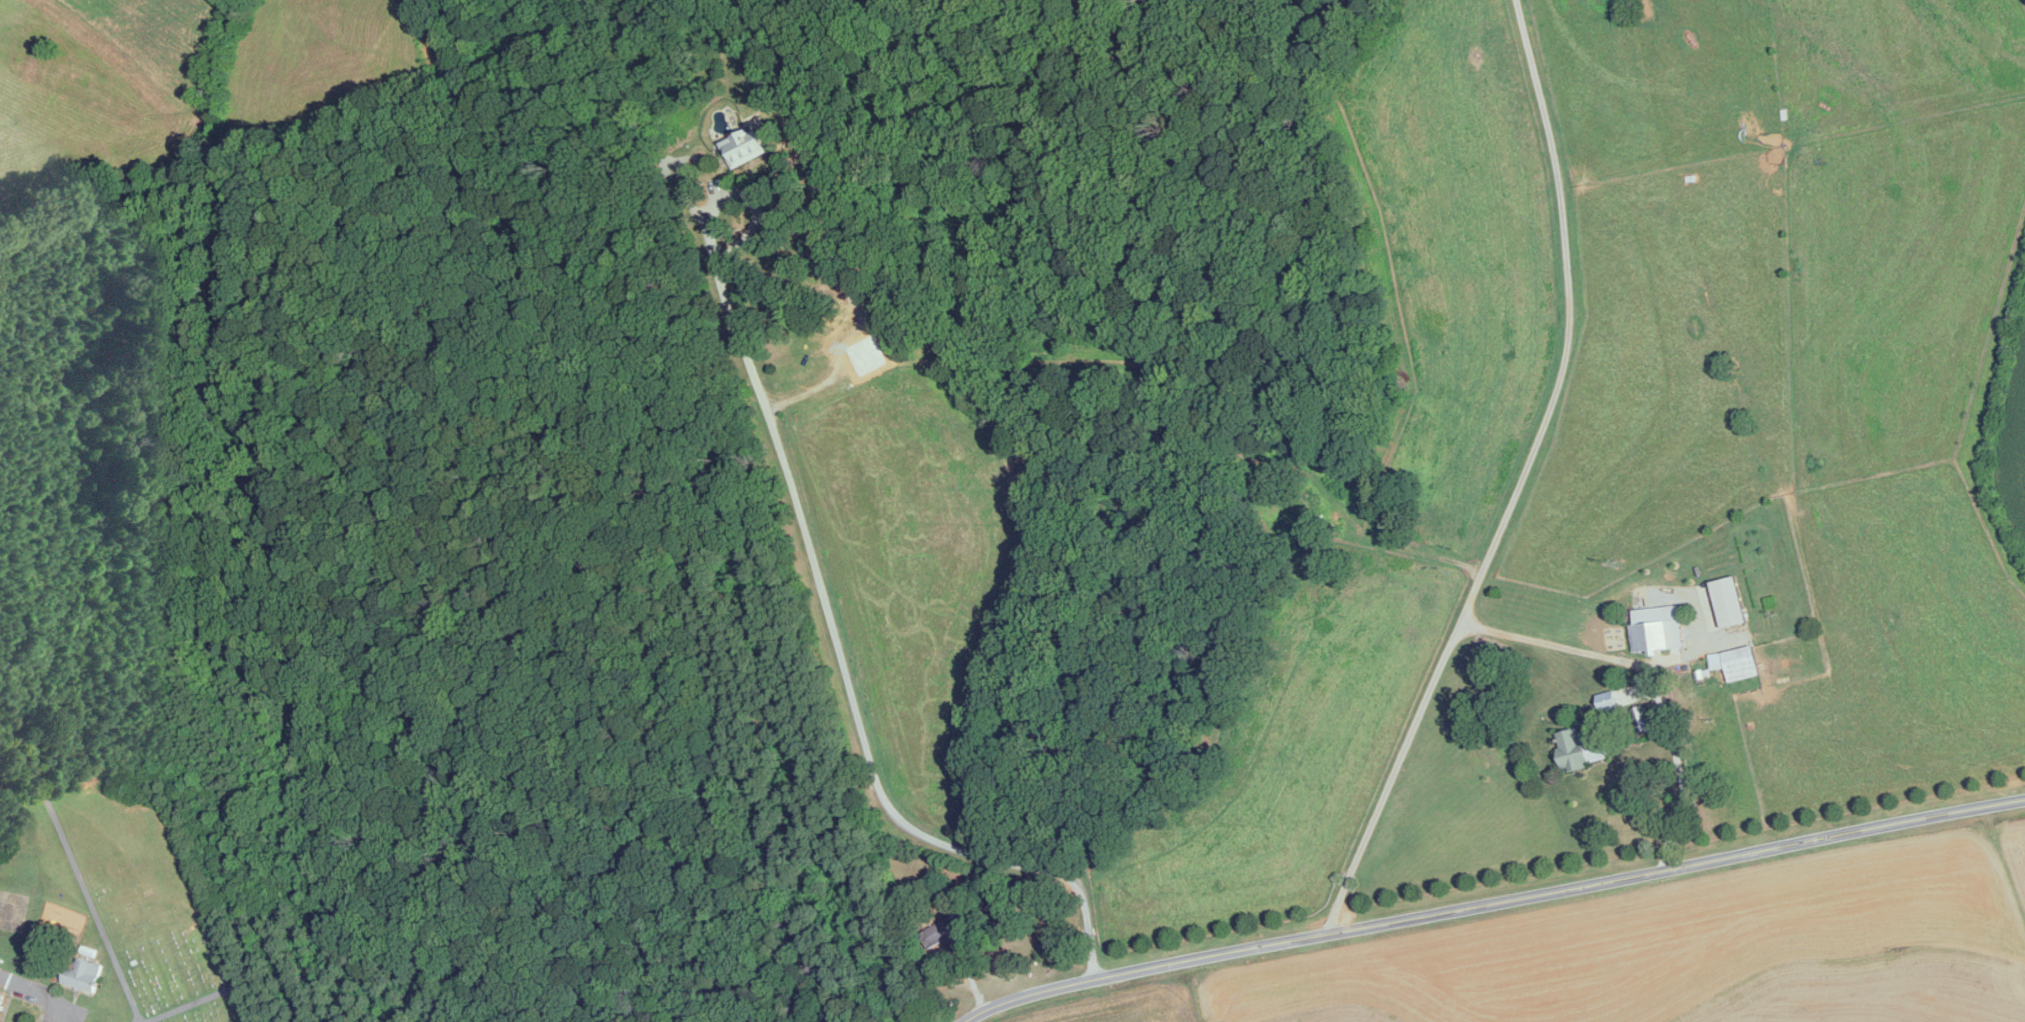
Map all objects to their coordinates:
building: (748, 149)
road: (1516, 477)
road: (823, 591)
building: (1729, 621)
building: (1654, 630)
road: (1561, 645)
building: (1736, 664)
building: (1579, 749)
road: (1680, 778)
road: (1491, 901)
park: (145, 906)
building: (947, 930)
building: (84, 976)
road: (42, 992)
building: (1, 997)

